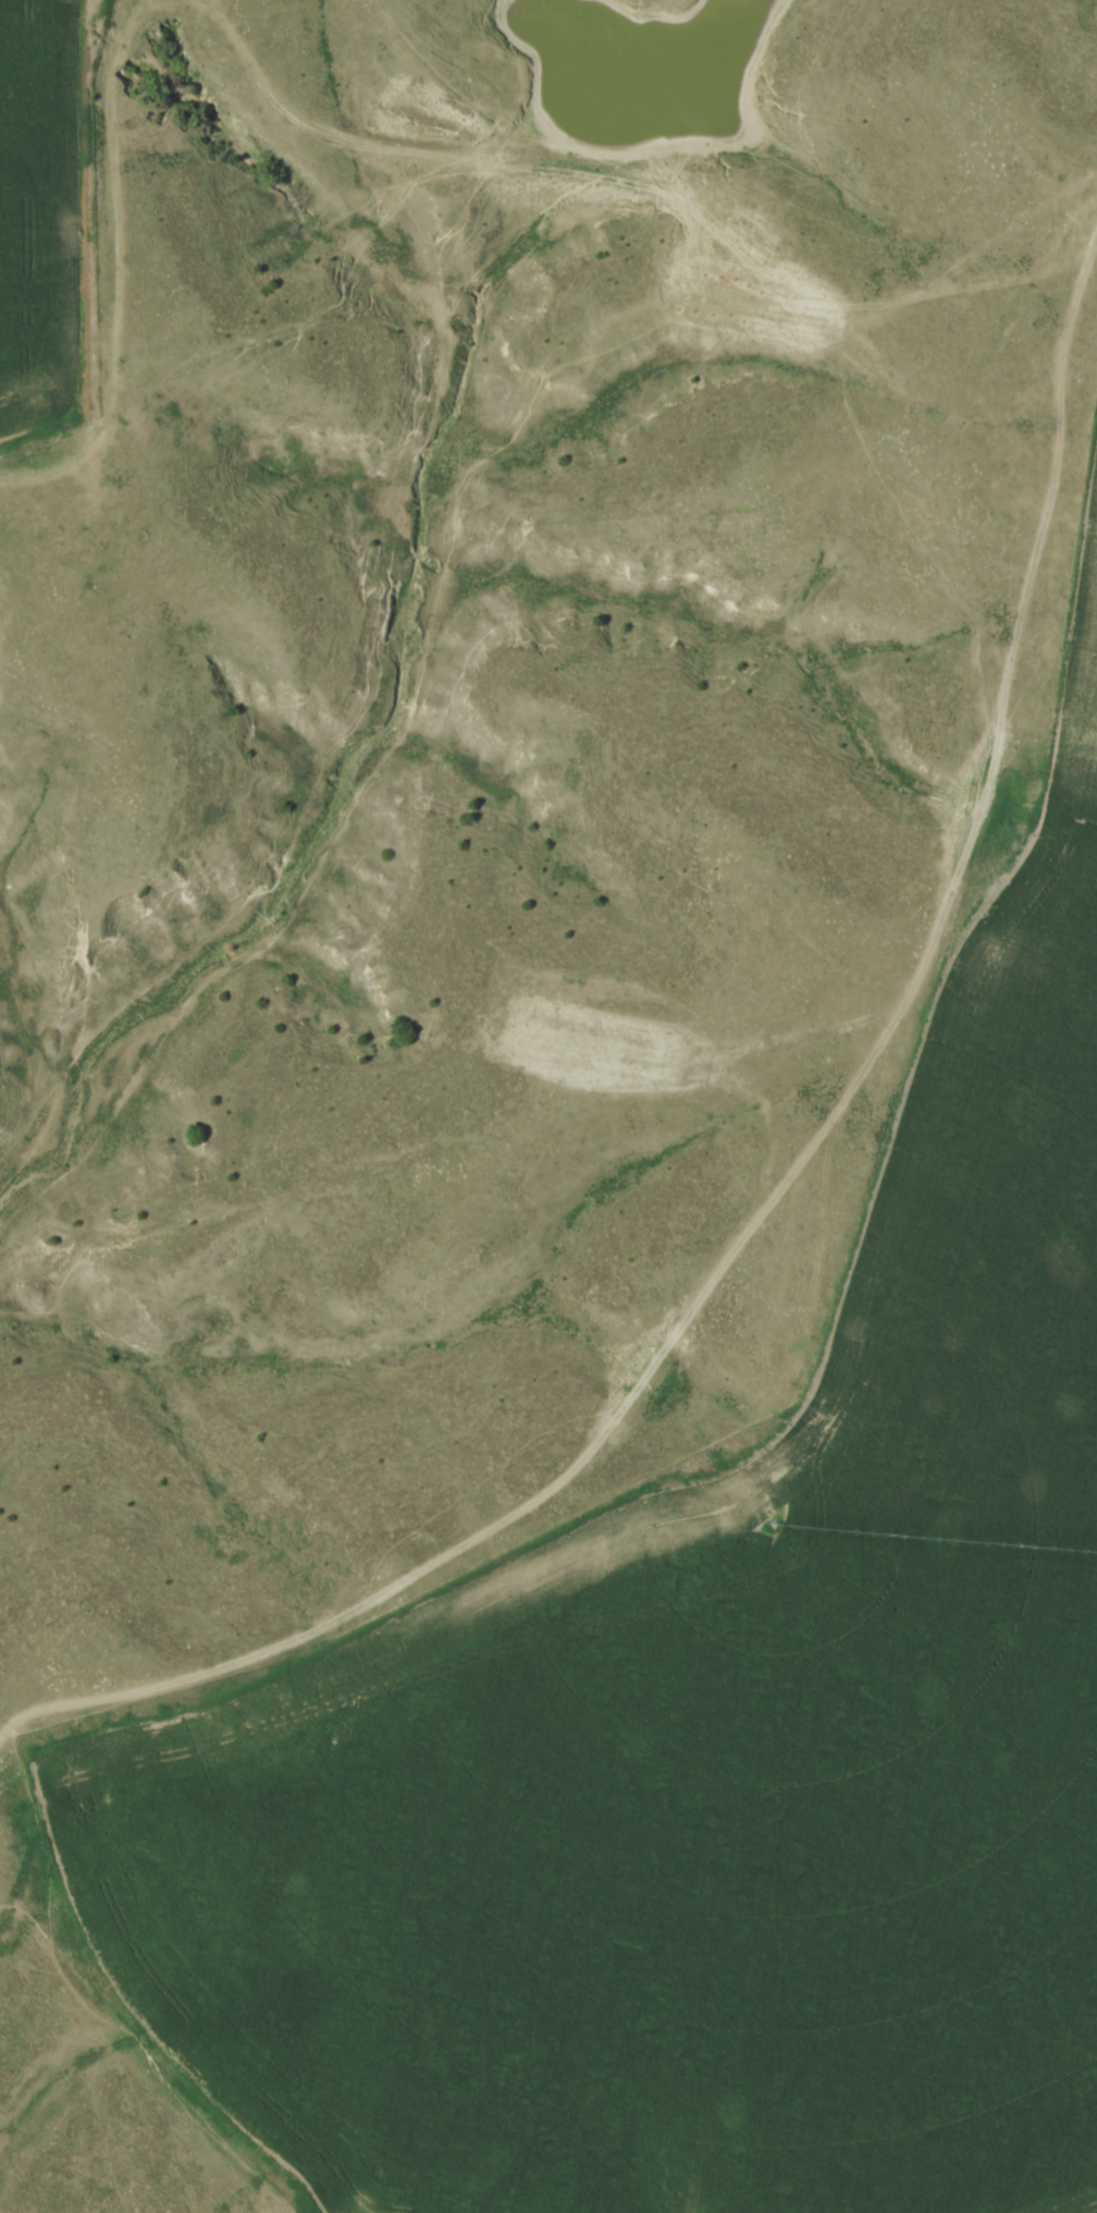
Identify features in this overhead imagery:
crop: (36, 205)
building: (30, 440)
building: (905, 1080)

